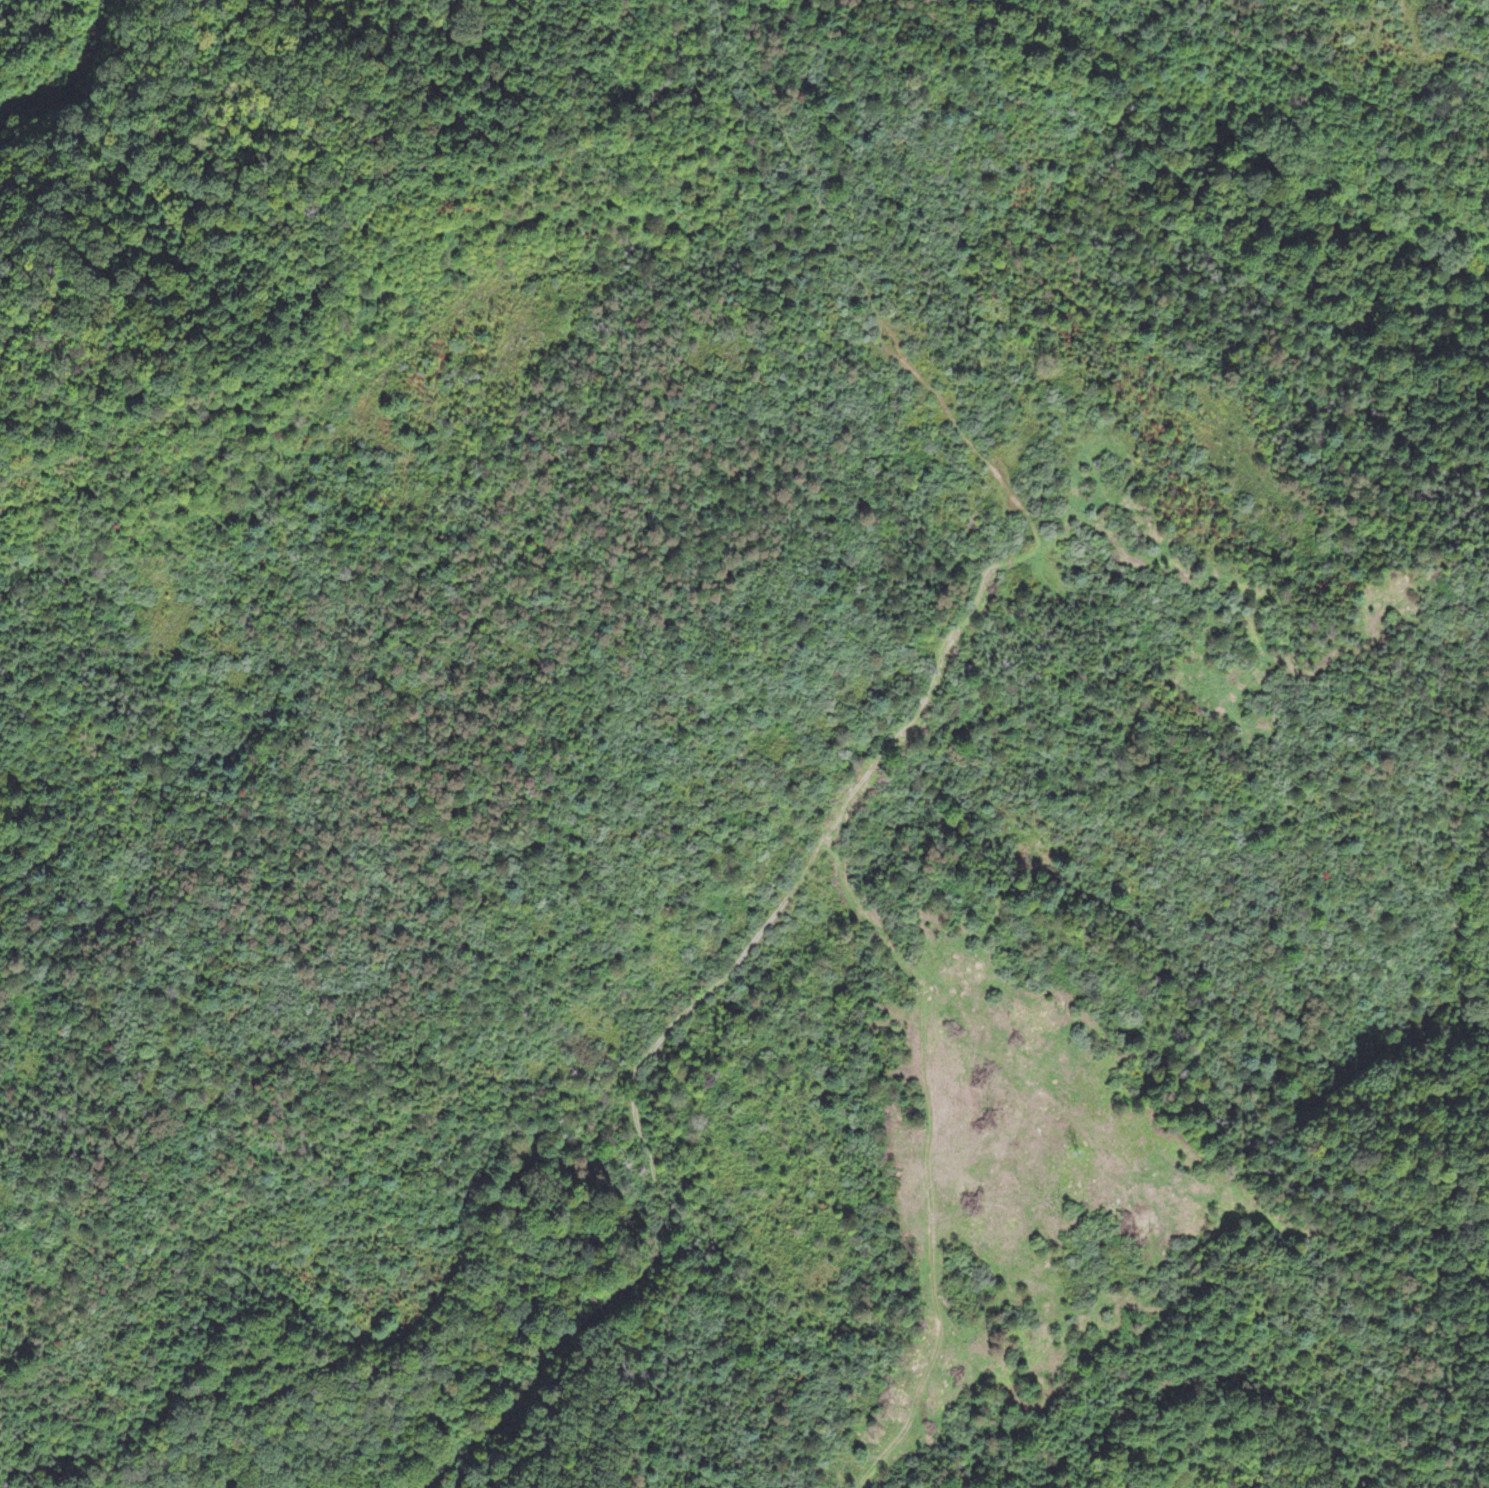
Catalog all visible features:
building: (1110, 1212)
road: (487, 1430)

